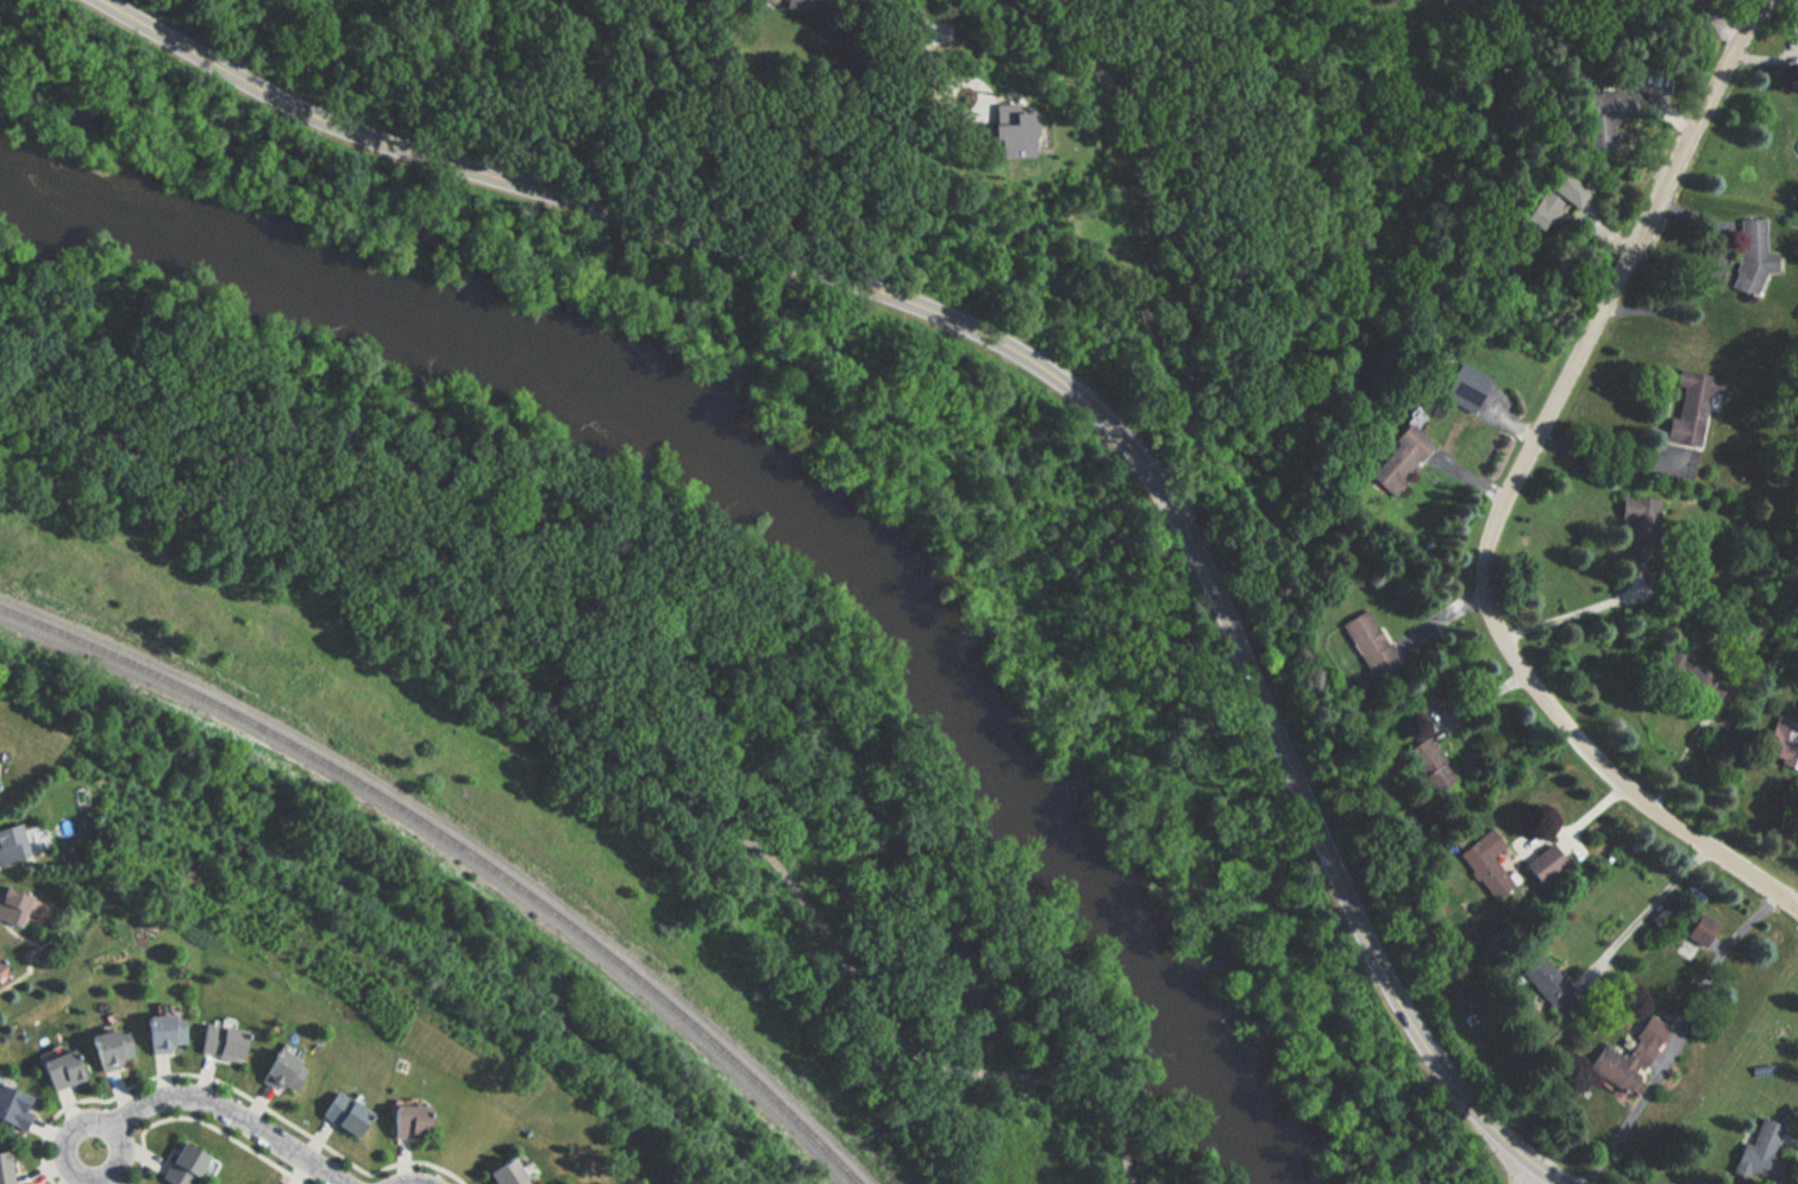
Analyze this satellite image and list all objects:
building: (804, 5)
road: (1714, 24)
road: (934, 75)
building: (1606, 114)
building: (1009, 142)
building: (1567, 194)
road: (1166, 219)
building: (1752, 257)
road: (1714, 269)
road: (1011, 349)
building: (1691, 407)
road: (1514, 421)
road: (1606, 445)
building: (1397, 458)
road: (1473, 481)
road: (1510, 489)
river: (772, 499)
park: (725, 604)
road: (1572, 608)
building: (1368, 644)
road: (601, 739)
building: (1781, 744)
building: (1428, 764)
road: (1574, 827)
building: (12, 844)
railway: (463, 846)
building: (1542, 863)
building: (1483, 870)
building: (13, 906)
road: (1647, 908)
building: (1700, 928)
building: (1, 966)
building: (1546, 982)
building: (159, 1032)
building: (218, 1041)
building: (107, 1047)
building: (1625, 1054)
building: (57, 1069)
building: (278, 1071)
road: (228, 1089)
building: (12, 1108)
building: (343, 1114)
road: (230, 1117)
road: (1625, 1121)
road: (198, 1122)
building: (408, 1122)
road: (71, 1127)
building: (1763, 1148)
building: (177, 1165)
building: (2, 1166)
building: (503, 1172)
road: (1523, 1172)
road: (1545, 1172)
road: (416, 1183)

